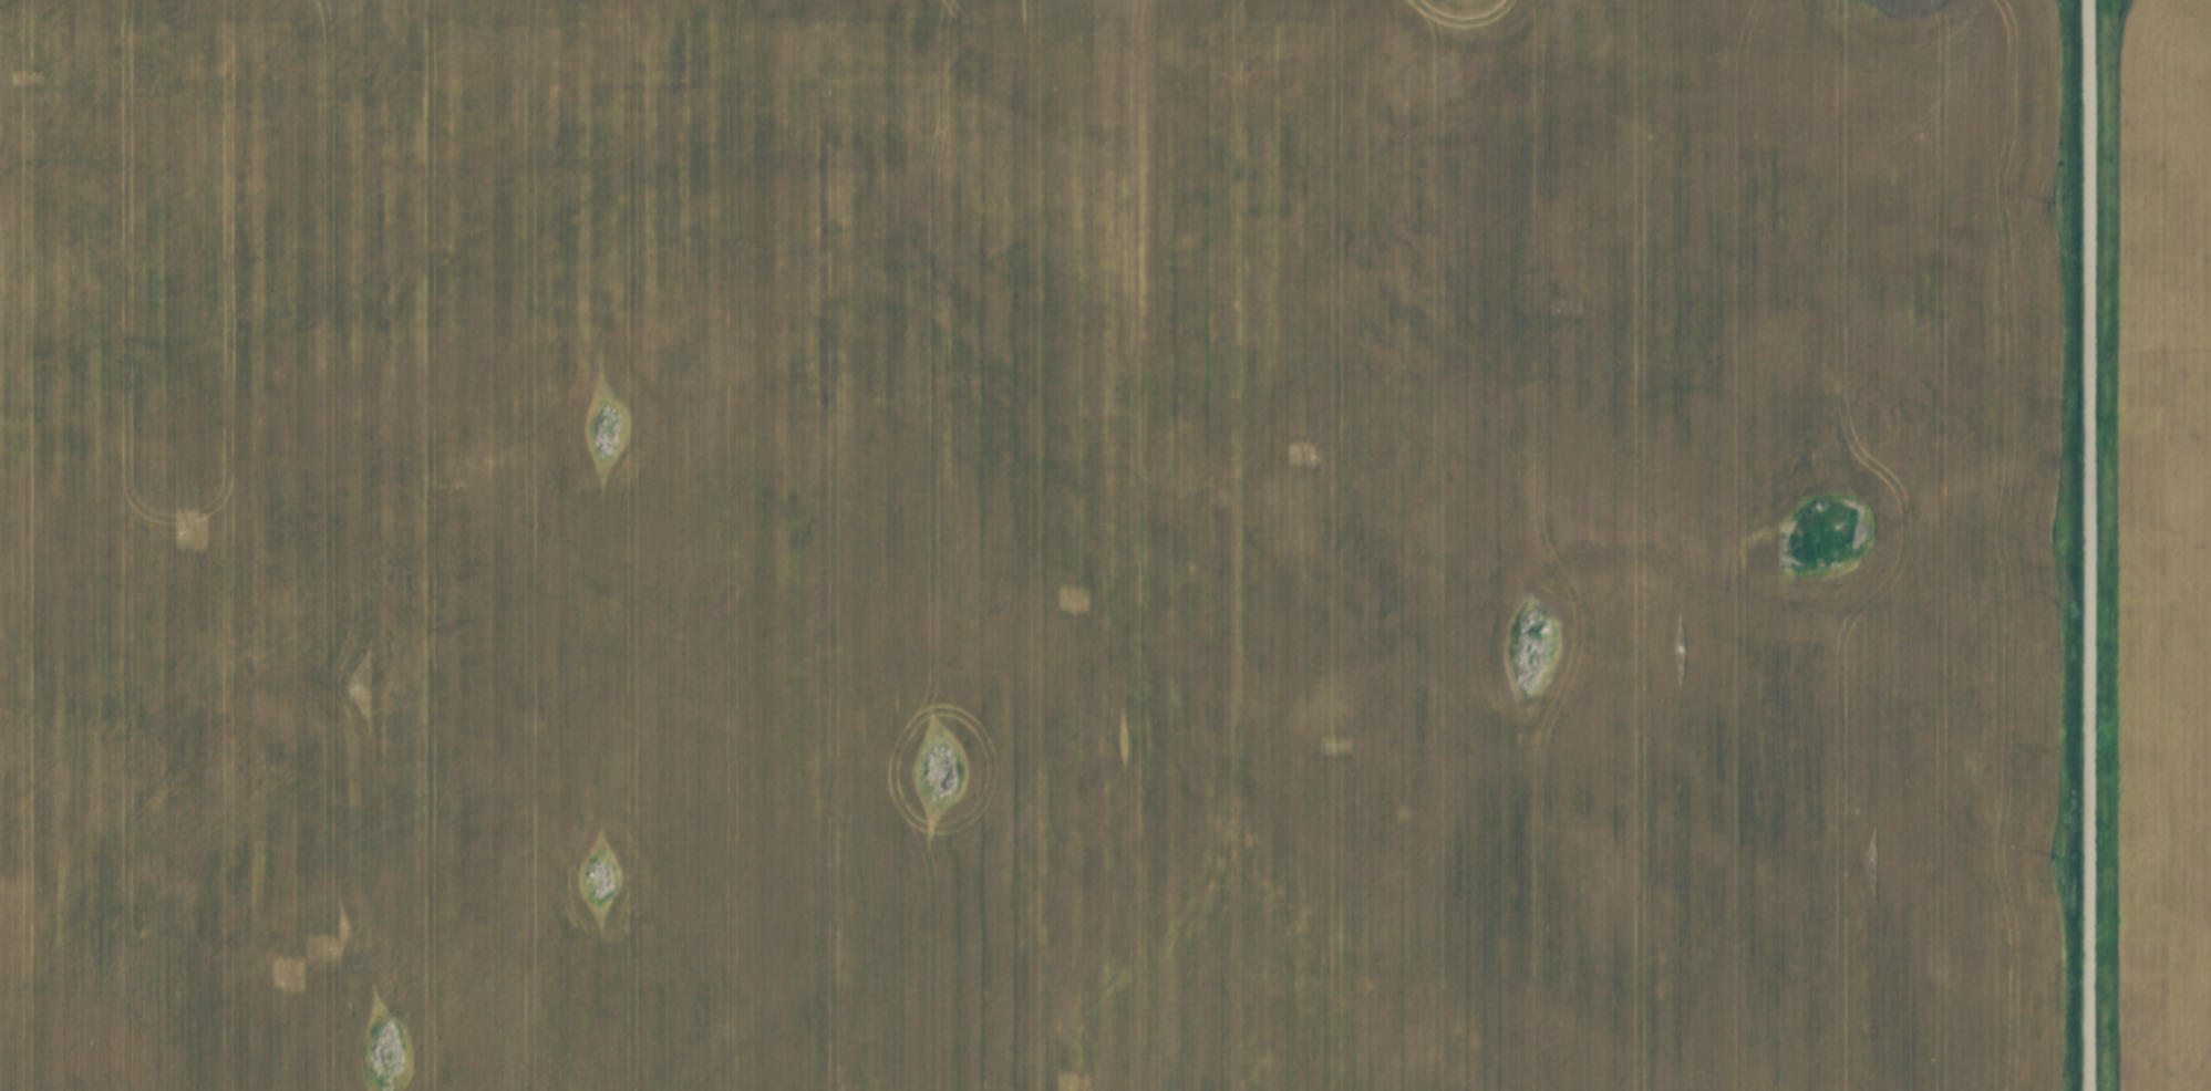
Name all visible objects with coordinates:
road: (2089, 545)

